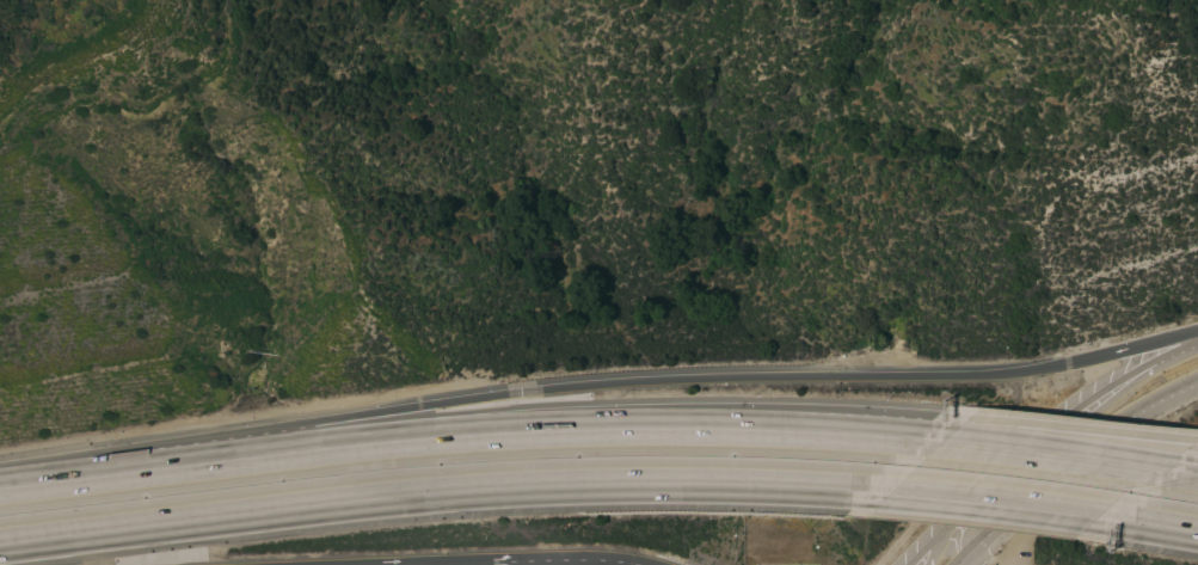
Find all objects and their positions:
road: (1196, 381)
road: (597, 387)
road: (859, 418)
road: (1082, 430)
road: (469, 435)
road: (1044, 440)
road: (1197, 442)
road: (1049, 454)
road: (1067, 457)
road: (1175, 472)
road: (443, 495)
road: (991, 504)
road: (1145, 526)
road: (957, 535)
road: (558, 561)
road: (413, 563)

